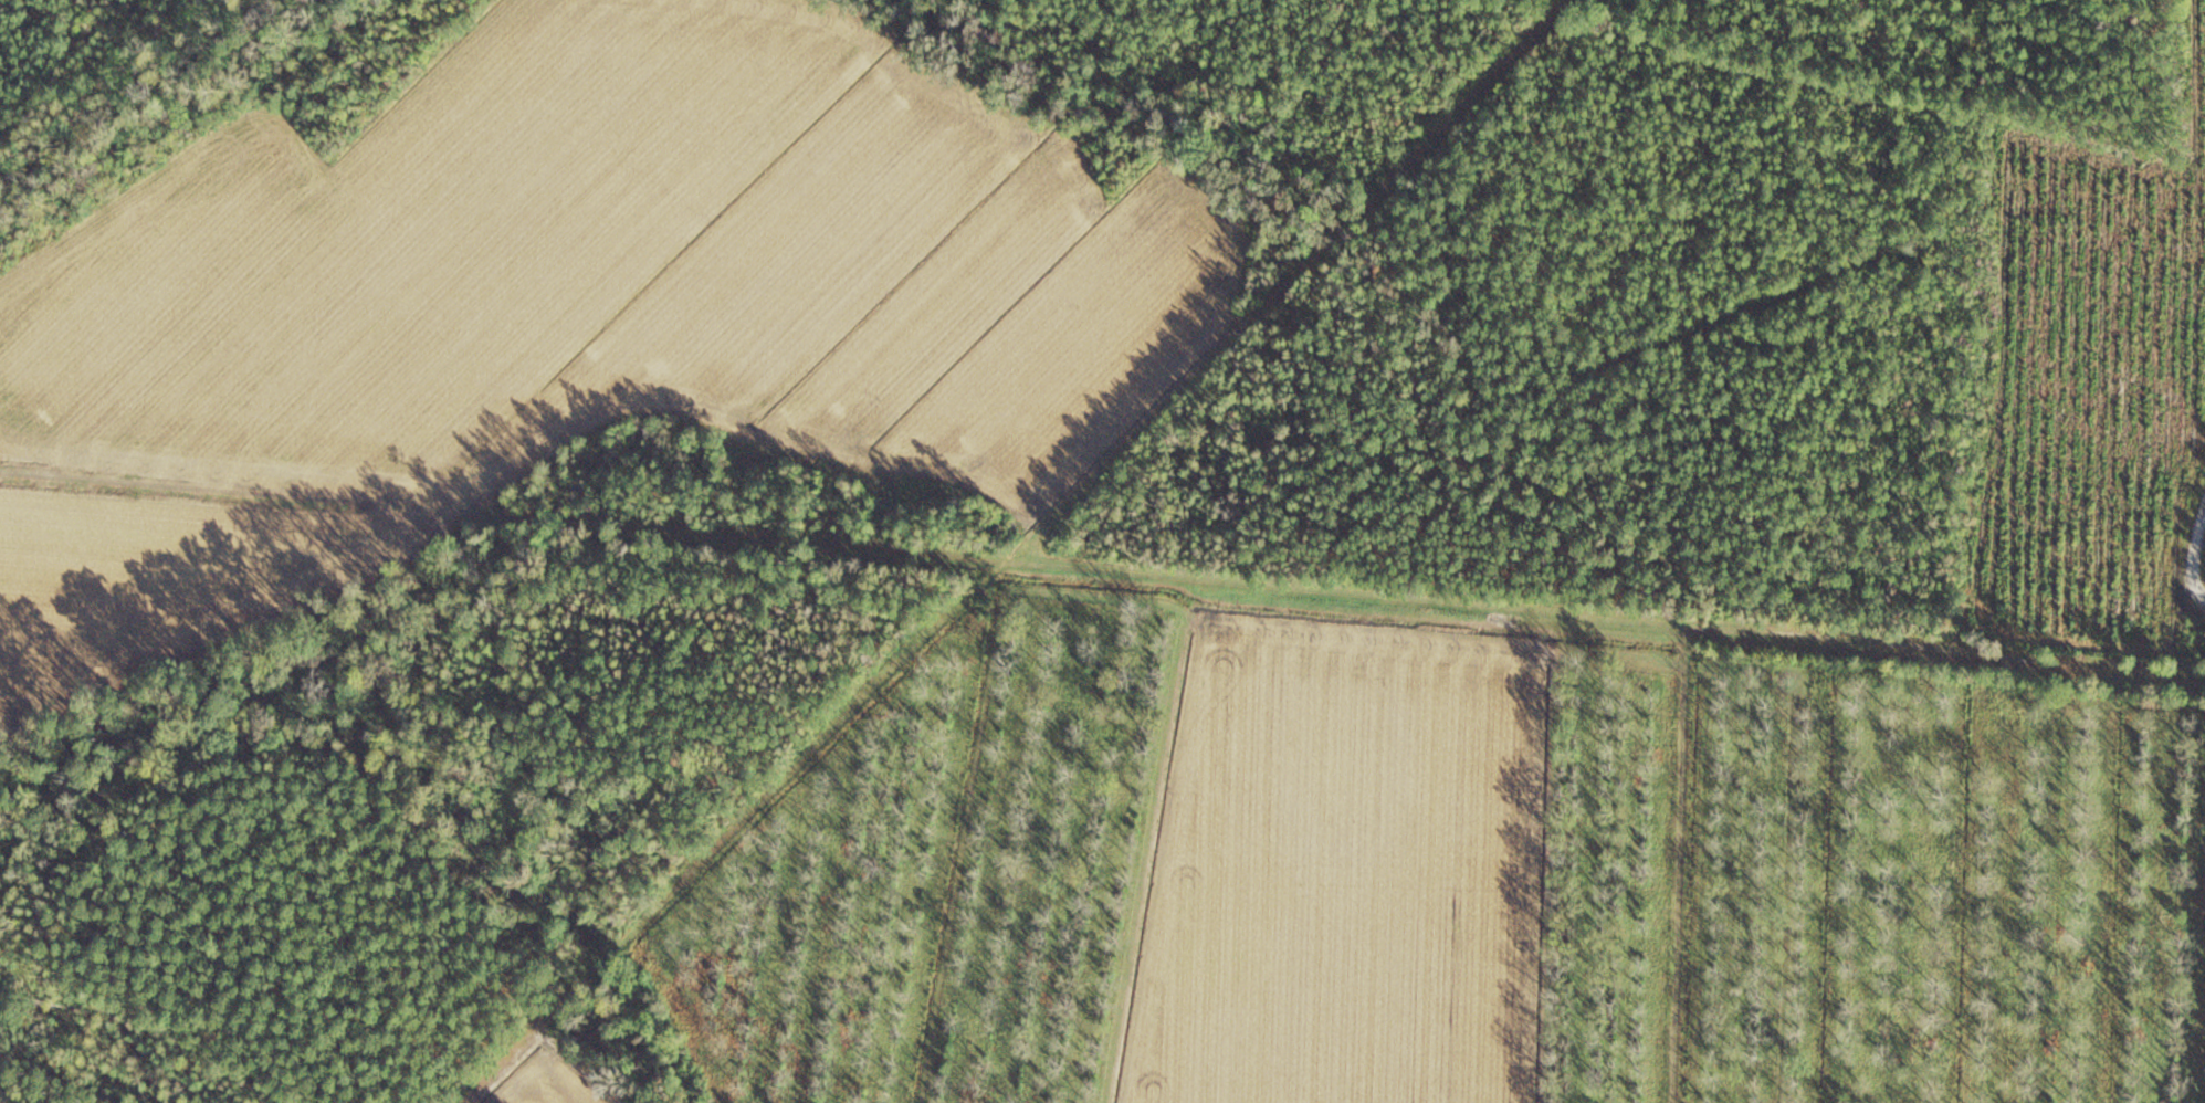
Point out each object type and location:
road: (2181, 571)

